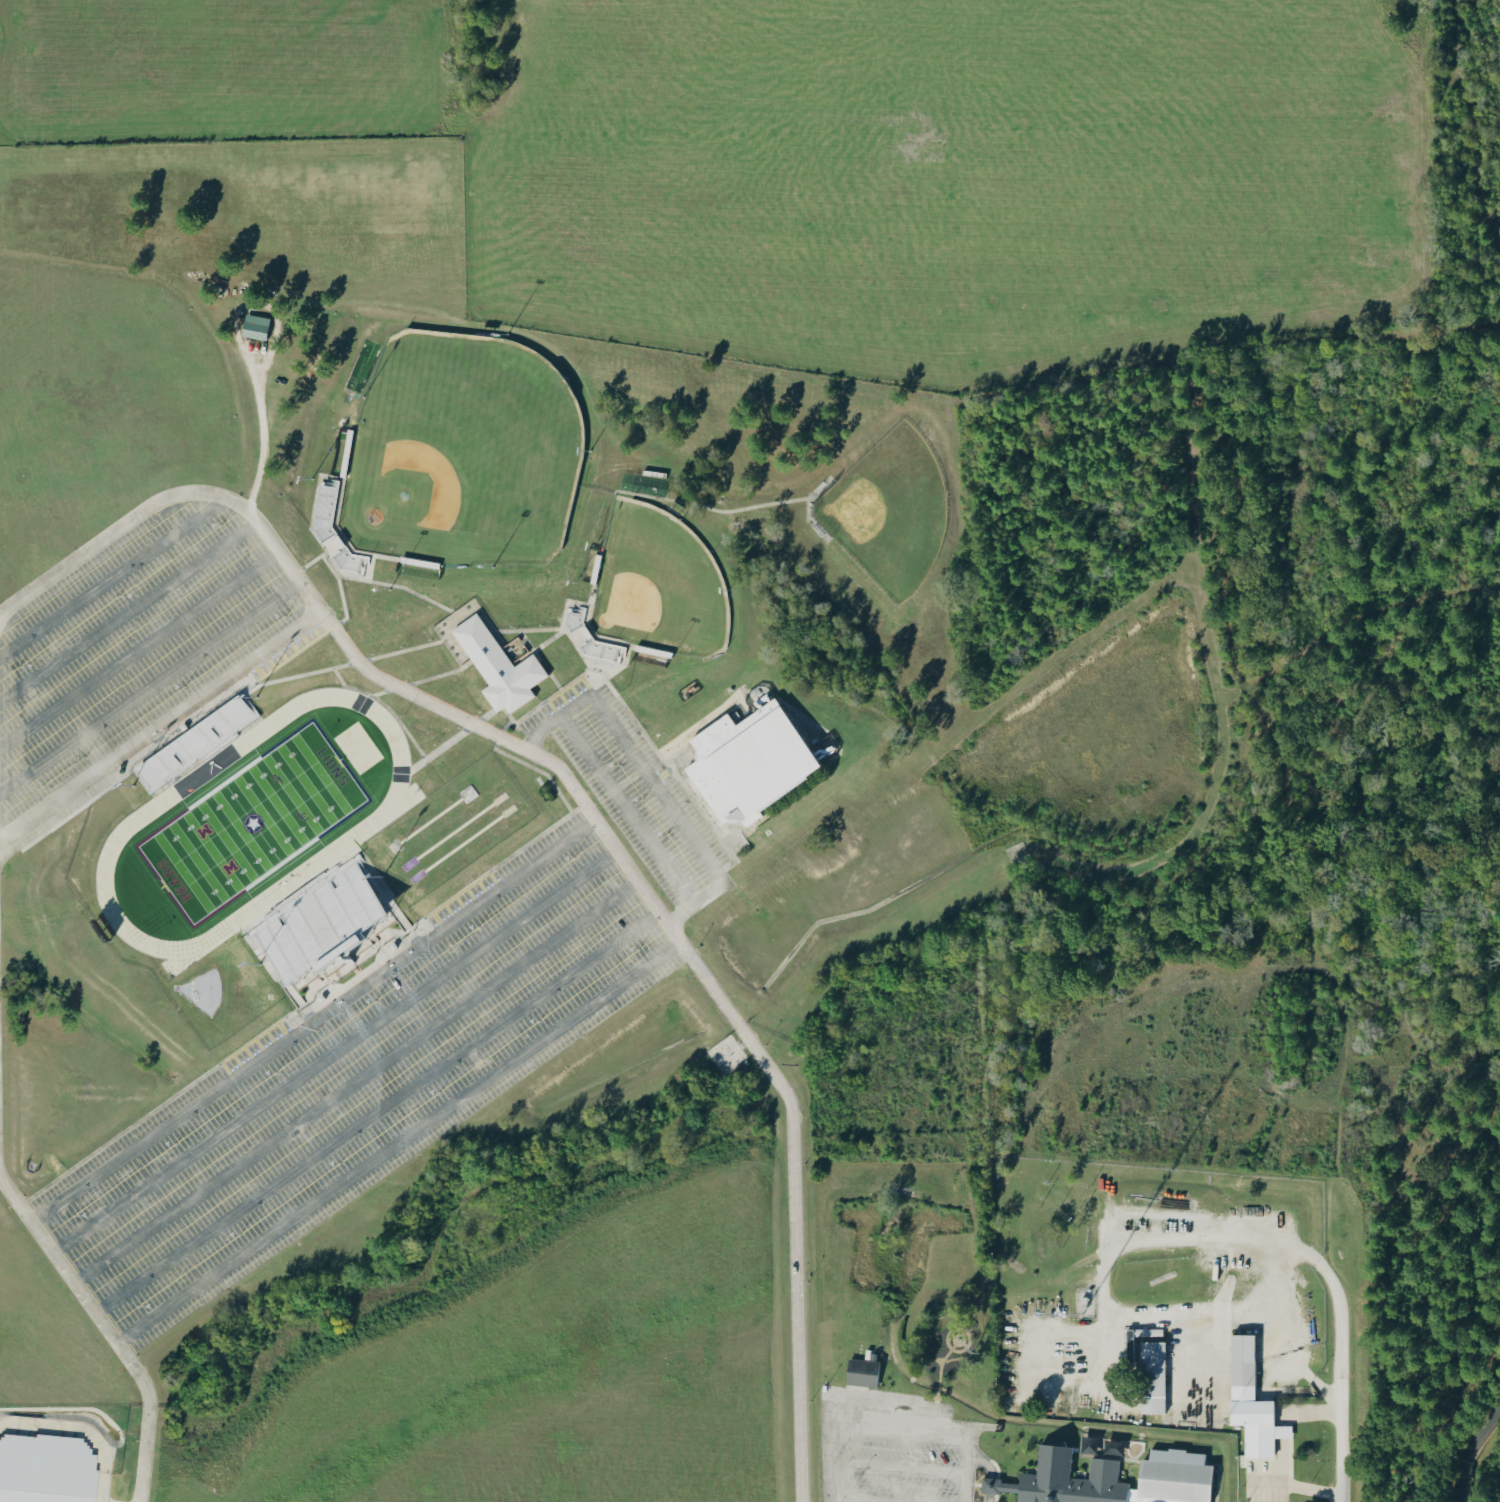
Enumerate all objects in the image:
building: (253, 326)
park: (460, 454)
building: (323, 512)
park: (886, 515)
road: (306, 565)
building: (417, 566)
road: (112, 577)
park: (657, 588)
road: (338, 592)
road: (442, 607)
road: (128, 611)
road: (518, 629)
parking lot: (129, 640)
road: (138, 649)
building: (652, 654)
road: (538, 659)
building: (497, 666)
road: (445, 672)
road: (296, 675)
road: (149, 686)
road: (383, 692)
road: (542, 702)
road: (479, 717)
road: (160, 724)
road: (400, 726)
building: (194, 743)
building: (748, 762)
road: (651, 782)
parking lot: (630, 787)
road: (586, 809)
road: (626, 810)
park: (250, 823)
track: (357, 832)
stadium: (275, 850)
road: (489, 869)
building: (322, 925)
road: (357, 976)
road: (312, 1020)
road: (333, 1051)
road: (354, 1082)
parking lot: (355, 1083)
road: (162, 1102)
road: (376, 1112)
road: (397, 1142)
road: (1257, 1309)
road: (107, 1329)
building: (1151, 1377)
building: (1249, 1401)
road: (895, 1413)
road: (1468, 1451)
road: (1347, 1452)
building: (48, 1469)
building: (1108, 1479)
road: (1298, 1485)

